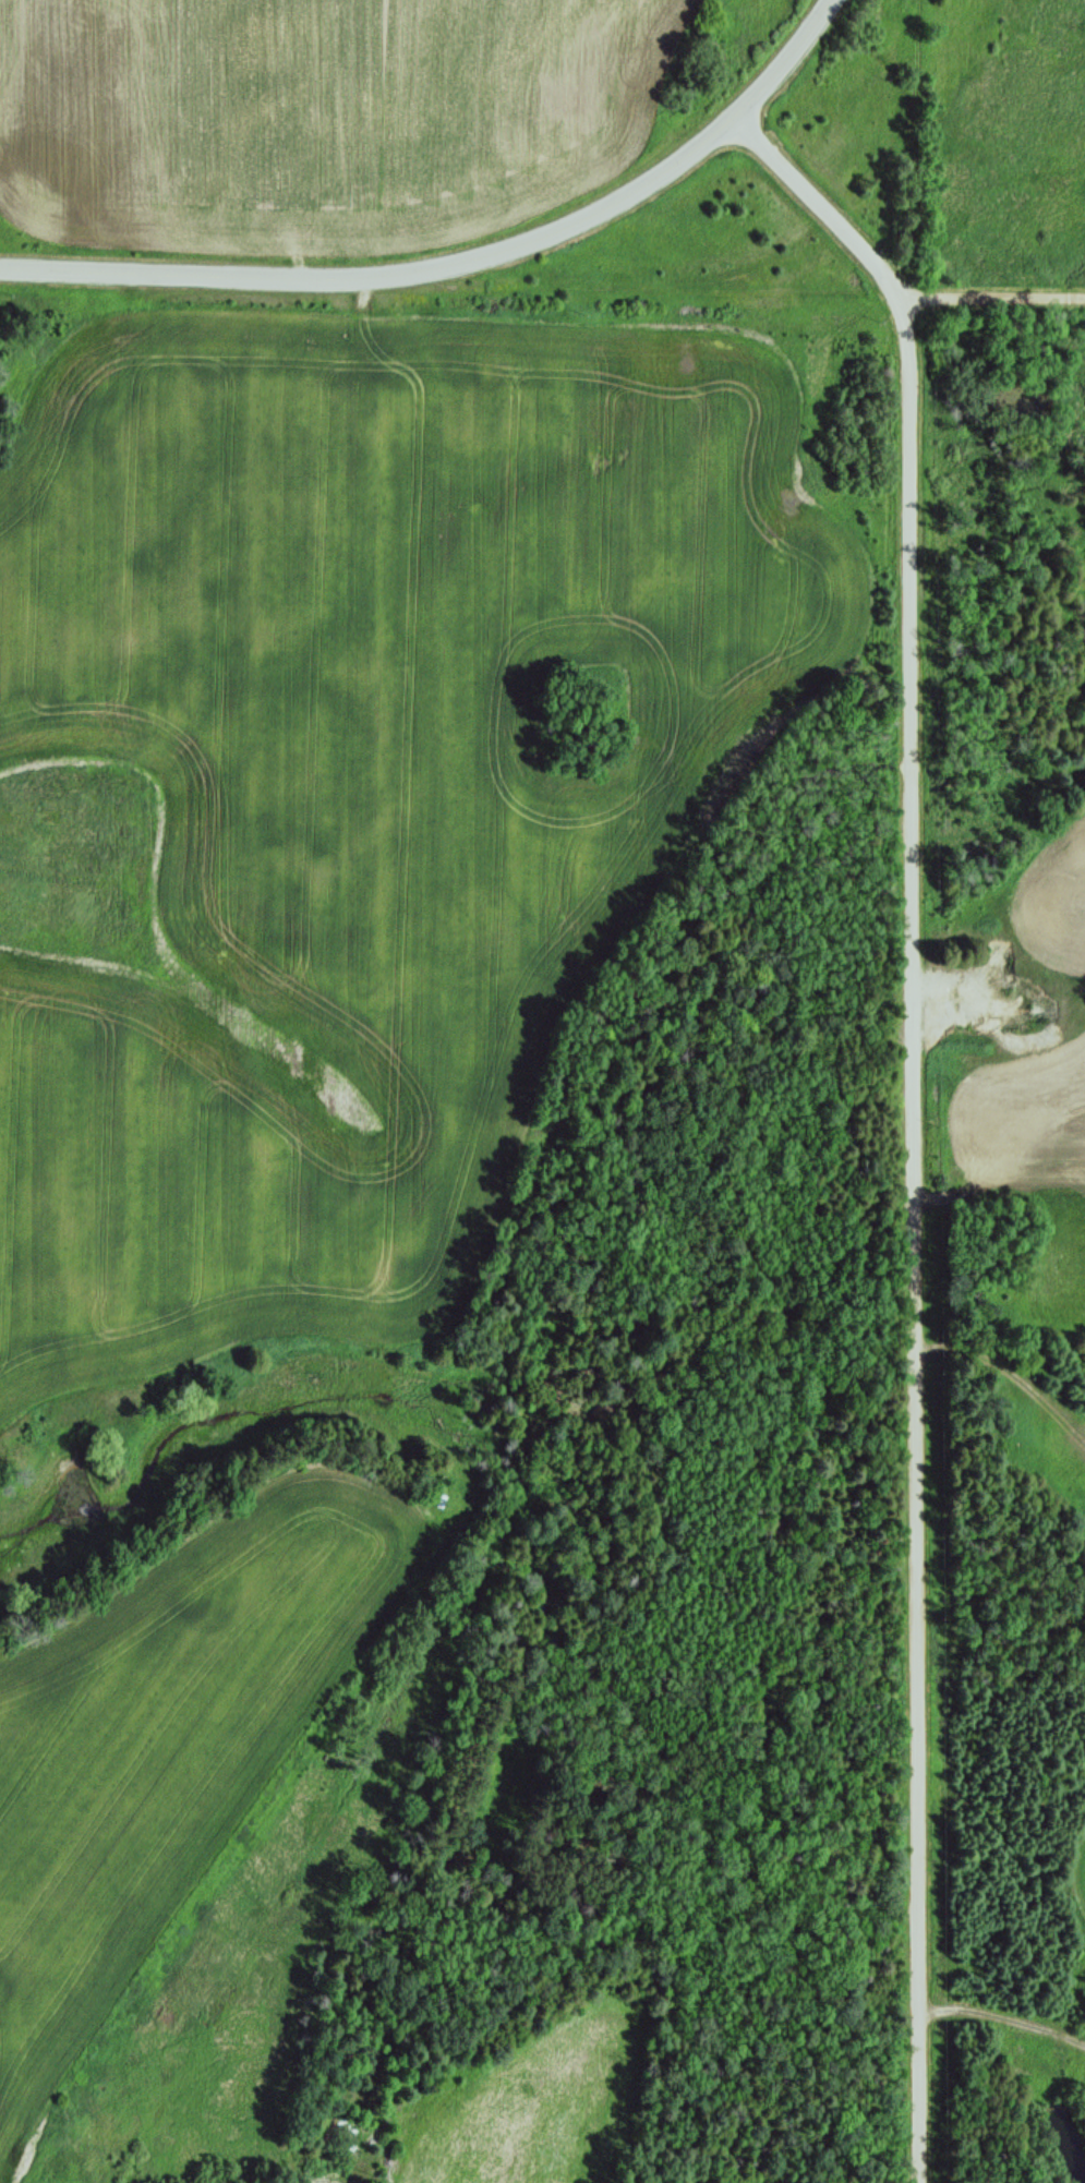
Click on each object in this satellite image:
road: (786, 59)
road: (822, 206)
road: (387, 273)
road: (994, 300)
road: (912, 1241)

